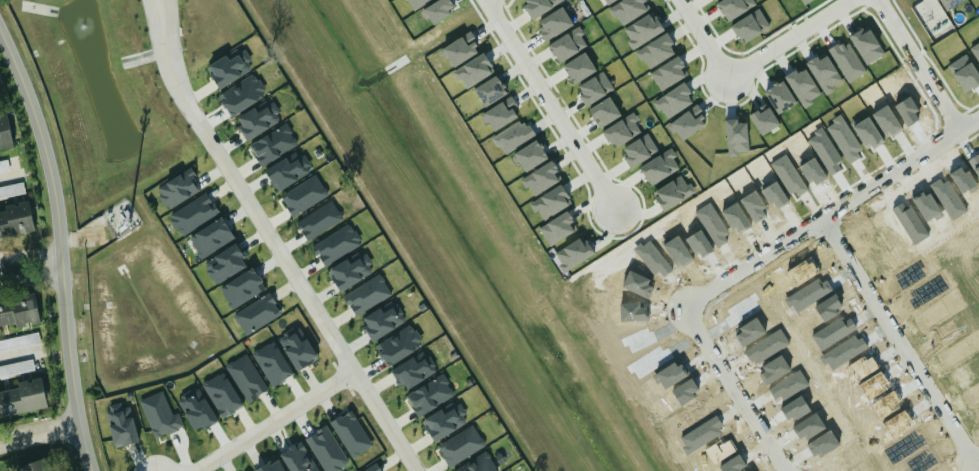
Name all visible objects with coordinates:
building: (607, 1)
building: (805, 1)
building: (950, 3)
building: (538, 6)
building: (734, 6)
building: (930, 8)
building: (628, 9)
building: (554, 22)
building: (750, 25)
fountain: (86, 29)
building: (643, 29)
road: (702, 37)
road: (790, 38)
building: (568, 43)
building: (867, 44)
building: (460, 48)
building: (656, 50)
building: (847, 60)
road: (918, 64)
building: (229, 67)
building: (578, 67)
building: (473, 69)
building: (669, 72)
building: (824, 72)
building: (803, 86)
building: (594, 87)
building: (490, 90)
building: (242, 93)
building: (779, 96)
building: (673, 99)
road: (550, 102)
building: (603, 111)
building: (501, 112)
building: (763, 118)
building: (257, 119)
building: (687, 122)
building: (621, 129)
building: (4, 132)
building: (513, 135)
building: (736, 136)
building: (273, 143)
building: (639, 149)
building: (530, 154)
building: (4, 164)
building: (659, 165)
building: (288, 170)
road: (10, 177)
building: (541, 177)
building: (179, 187)
building: (12, 189)
building: (673, 191)
building: (304, 194)
building: (551, 201)
road: (832, 209)
building: (193, 213)
building: (15, 219)
building: (320, 219)
building: (557, 228)
building: (211, 237)
road: (272, 241)
building: (337, 243)
road: (60, 250)
building: (574, 253)
building: (225, 262)
road: (31, 266)
building: (351, 270)
building: (242, 287)
building: (368, 294)
building: (18, 310)
building: (257, 313)
building: (383, 319)
road: (898, 339)
building: (20, 340)
building: (399, 343)
building: (297, 350)
road: (19, 354)
building: (272, 362)
building: (17, 367)
building: (414, 370)
building: (247, 376)
road: (734, 390)
building: (222, 393)
building: (430, 393)
building: (22, 397)
building: (196, 409)
building: (160, 413)
building: (445, 420)
road: (276, 422)
building: (122, 423)
road: (39, 432)
building: (352, 432)
building: (461, 444)
building: (327, 449)
building: (299, 457)
building: (478, 464)
building: (30, 465)
building: (272, 466)
building: (373, 468)

